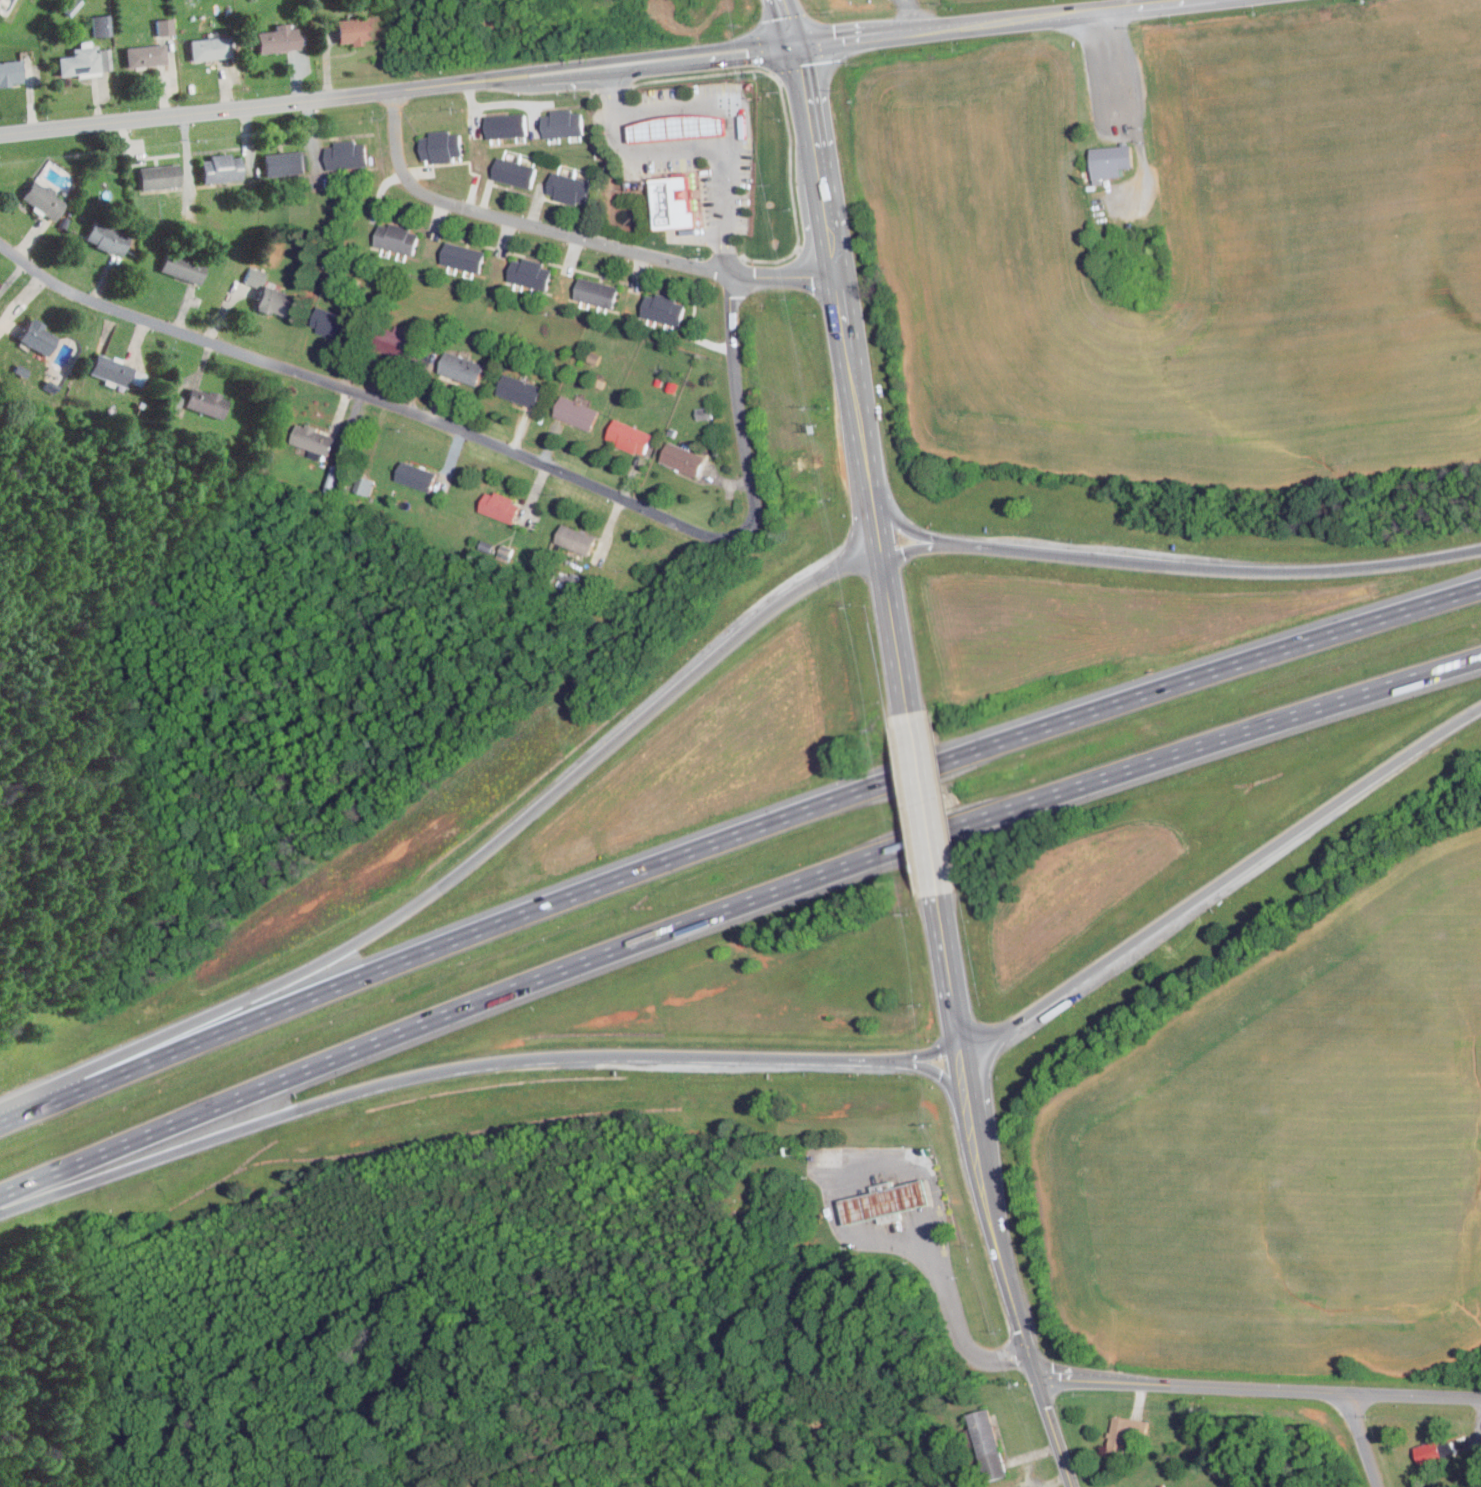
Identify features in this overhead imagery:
building: (72, 7)
road: (906, 16)
road: (789, 22)
building: (102, 24)
building: (166, 25)
building: (358, 30)
building: (280, 39)
traffic signals: (798, 45)
building: (211, 49)
building: (147, 55)
building: (80, 61)
road: (1118, 67)
road: (595, 69)
building: (11, 71)
road: (499, 102)
road: (700, 103)
building: (562, 125)
building: (504, 126)
building: (679, 126)
building: (440, 146)
road: (694, 148)
building: (346, 156)
building: (1111, 157)
building: (283, 163)
building: (221, 169)
building: (513, 172)
building: (158, 176)
building: (568, 186)
building: (43, 200)
building: (674, 202)
gas station: (674, 202)
building: (64, 225)
road: (573, 234)
building: (107, 236)
building: (385, 236)
building: (405, 241)
building: (452, 253)
crop: (1196, 253)
building: (472, 258)
building: (183, 266)
building: (519, 272)
building: (256, 276)
building: (538, 277)
building: (586, 289)
building: (605, 294)
building: (273, 301)
building: (653, 307)
building: (672, 312)
building: (331, 321)
building: (37, 337)
building: (392, 342)
building: (460, 367)
building: (21, 369)
building: (111, 370)
road: (852, 381)
building: (519, 390)
road: (366, 395)
building: (176, 402)
building: (206, 402)
road: (738, 408)
building: (576, 412)
building: (705, 413)
building: (628, 436)
building: (312, 439)
building: (682, 458)
building: (415, 476)
building: (332, 480)
building: (365, 485)
building: (499, 507)
building: (575, 540)
building: (505, 551)
road: (1180, 564)
road: (923, 808)
road: (511, 827)
road: (736, 849)
road: (1223, 896)
road: (734, 913)
road: (953, 980)
road: (510, 1060)
road: (836, 1202)
building: (886, 1202)
road: (941, 1215)
road: (1012, 1276)
road: (962, 1335)
traffic signals: (1035, 1380)
road: (1258, 1389)
building: (1122, 1431)
road: (1364, 1440)
building: (988, 1441)
building: (1432, 1451)

